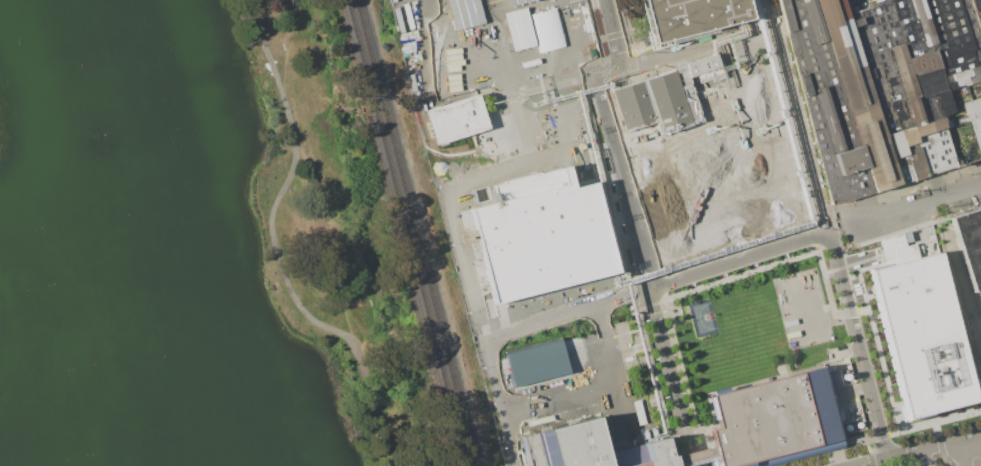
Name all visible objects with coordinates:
building: (516, 1)
building: (974, 1)
building: (976, 10)
building: (689, 16)
building: (978, 23)
building: (980, 34)
building: (502, 49)
building: (916, 57)
building: (979, 84)
building: (857, 93)
building: (823, 98)
building: (973, 109)
road: (798, 117)
building: (456, 119)
building: (937, 124)
building: (921, 129)
building: (976, 133)
building: (907, 137)
building: (895, 144)
road: (611, 145)
building: (926, 156)
building: (685, 157)
building: (849, 160)
road: (905, 209)
railway: (398, 232)
railway: (406, 232)
railway: (415, 232)
park: (194, 245)
building: (969, 245)
road: (278, 247)
road: (657, 287)
building: (922, 334)
road: (857, 347)
building: (536, 362)
road: (671, 378)
road: (588, 379)
building: (834, 379)
road: (502, 403)
road: (616, 404)
building: (773, 421)
building: (565, 446)
road: (921, 451)
building: (656, 454)
road: (962, 454)
road: (924, 458)
building: (682, 460)

